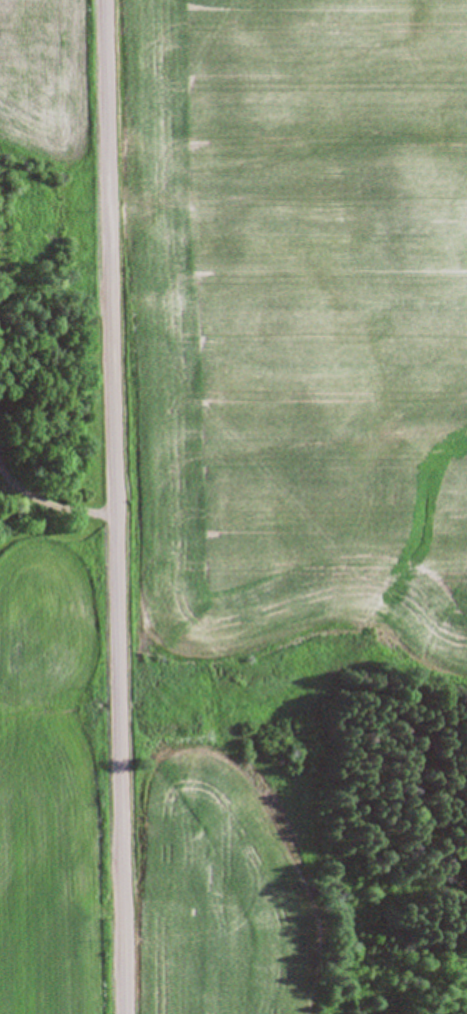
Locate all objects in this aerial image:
road: (118, 506)

